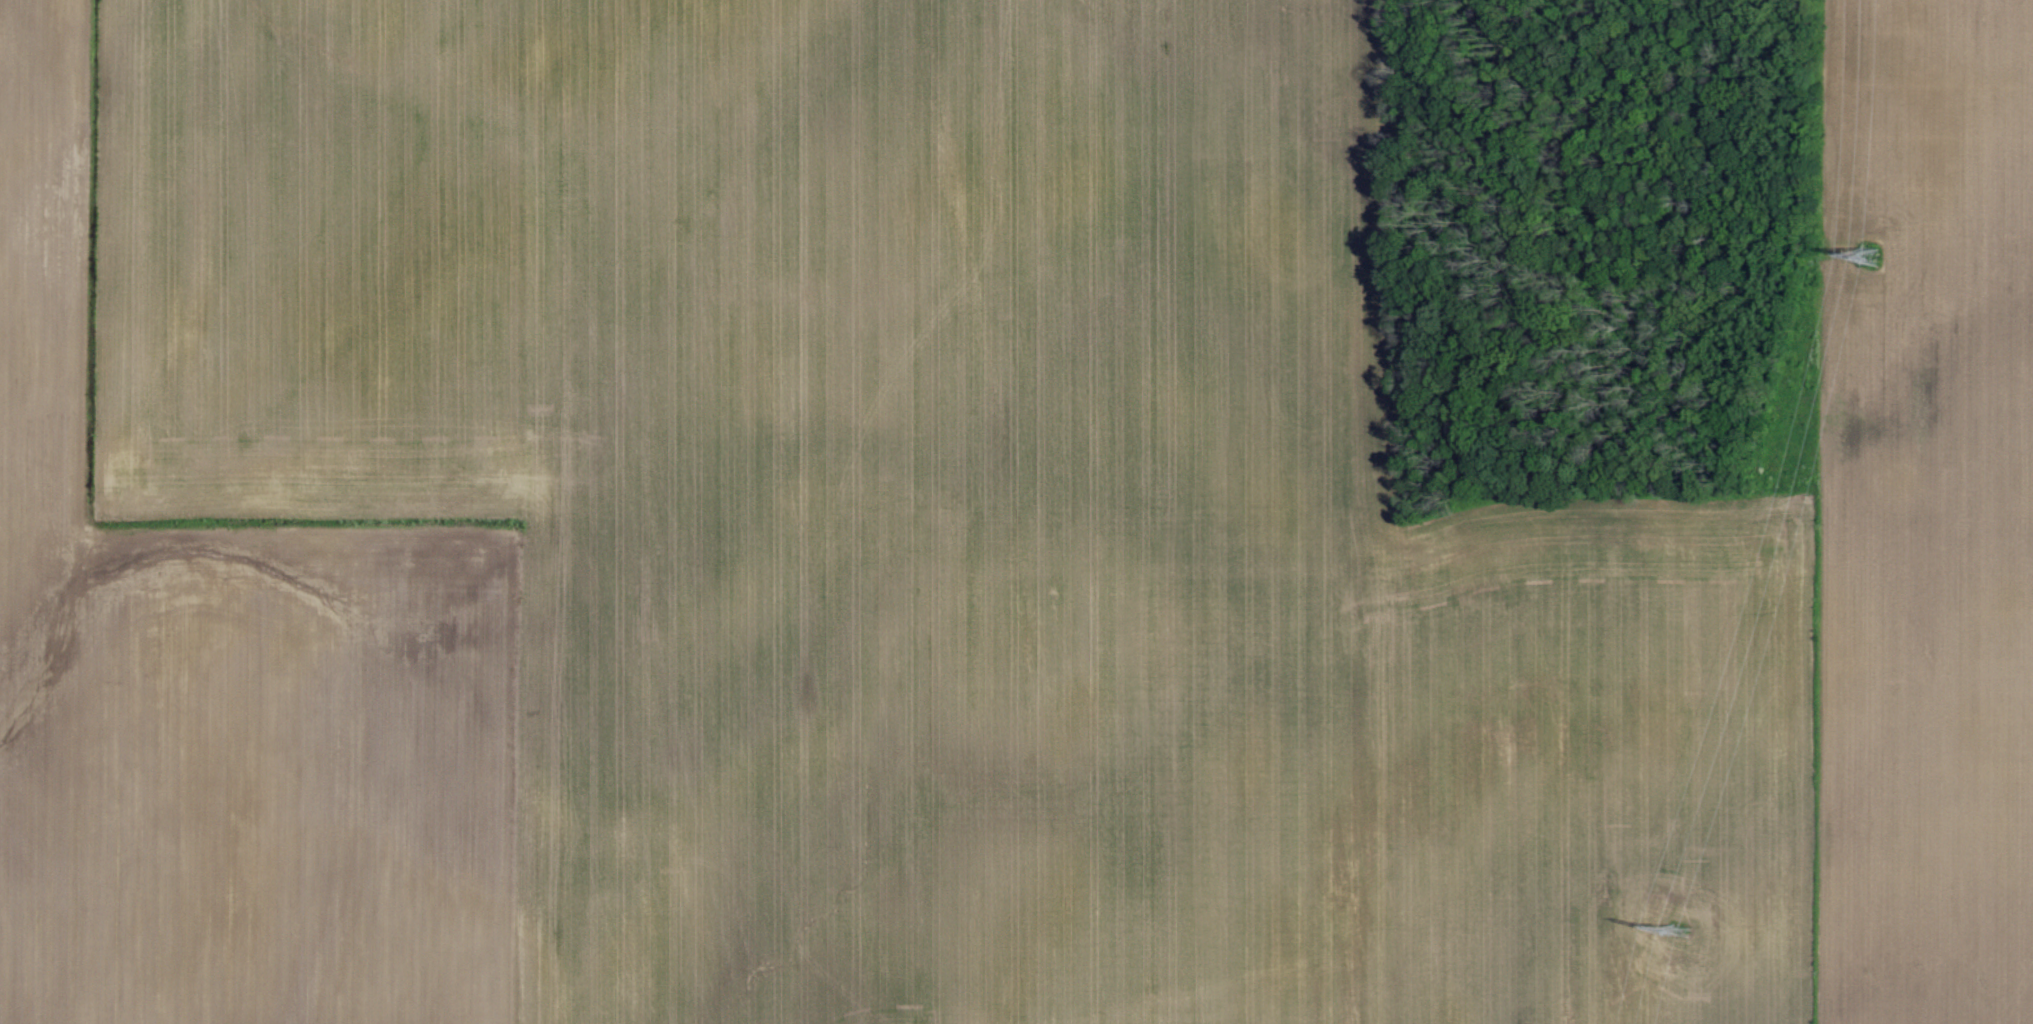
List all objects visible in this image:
power tower: (1869, 255)
power tower: (1679, 930)

